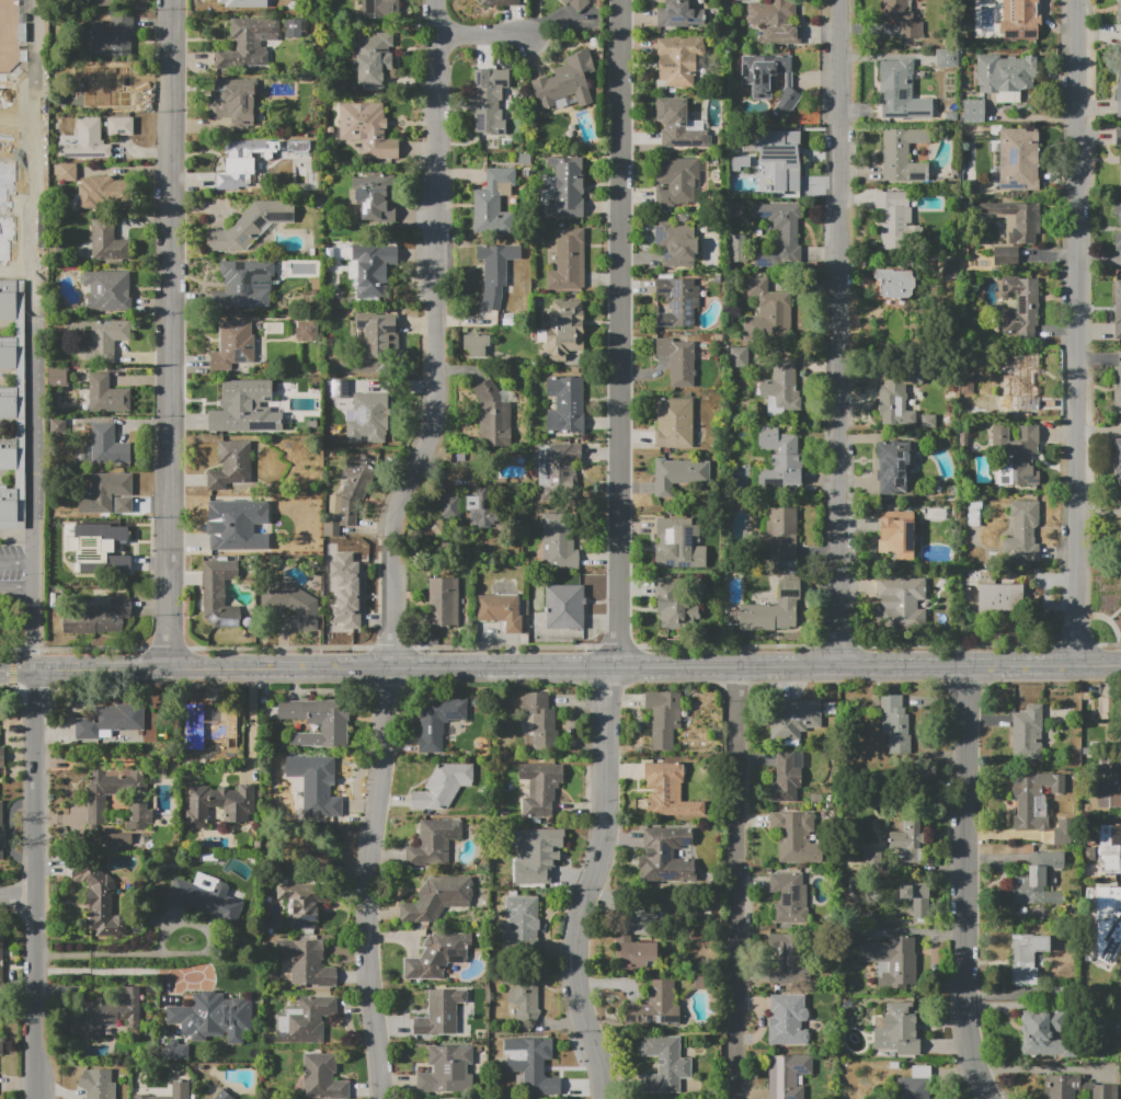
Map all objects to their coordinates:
building: (96, 2)
building: (242, 2)
building: (499, 2)
building: (576, 3)
building: (375, 8)
road: (34, 11)
building: (1119, 12)
building: (1019, 13)
building: (679, 14)
building: (902, 18)
building: (774, 22)
building: (293, 28)
park: (9, 35)
building: (110, 35)
road: (484, 38)
building: (248, 44)
building: (678, 54)
building: (370, 58)
building: (947, 58)
building: (765, 72)
building: (1006, 76)
building: (567, 80)
building: (894, 87)
building: (94, 89)
road: (19, 90)
building: (1120, 93)
building: (489, 101)
road: (37, 102)
building: (233, 103)
building: (785, 103)
building: (974, 111)
building: (5, 114)
building: (119, 126)
building: (679, 127)
building: (367, 129)
building: (1119, 137)
road: (19, 138)
building: (84, 141)
building: (902, 153)
building: (781, 154)
building: (1018, 159)
building: (1120, 159)
building: (238, 164)
building: (66, 171)
building: (675, 180)
building: (567, 186)
building: (105, 193)
building: (374, 194)
building: (3, 198)
building: (493, 202)
building: (1118, 210)
building: (1017, 219)
building: (895, 220)
building: (251, 225)
building: (778, 234)
building: (4, 237)
building: (107, 242)
building: (676, 243)
building: (1118, 243)
building: (737, 248)
building: (1005, 256)
building: (568, 260)
building: (949, 268)
building: (373, 270)
building: (495, 271)
road: (10, 272)
road: (21, 281)
building: (242, 284)
building: (895, 284)
building: (107, 290)
building: (7, 299)
building: (677, 301)
building: (1021, 308)
building: (1118, 309)
building: (767, 310)
road: (10, 327)
building: (305, 329)
building: (564, 329)
road: (1077, 332)
road: (170, 333)
building: (376, 333)
road: (838, 333)
building: (100, 336)
road: (436, 337)
building: (476, 344)
building: (235, 346)
road: (31, 348)
building: (8, 353)
building: (741, 356)
building: (677, 359)
building: (19, 370)
building: (58, 377)
road: (10, 378)
building: (1020, 385)
building: (1117, 386)
building: (780, 387)
building: (106, 393)
building: (896, 394)
building: (8, 403)
building: (237, 405)
building: (565, 405)
building: (492, 415)
building: (367, 417)
building: (927, 421)
building: (674, 423)
road: (10, 424)
building: (56, 425)
building: (963, 438)
building: (106, 447)
building: (7, 454)
building: (1016, 456)
building: (780, 459)
building: (1117, 460)
building: (231, 463)
building: (892, 465)
building: (557, 466)
building: (678, 473)
building: (112, 484)
building: (354, 486)
building: (12, 502)
building: (124, 505)
building: (331, 505)
building: (450, 506)
building: (480, 506)
building: (974, 512)
building: (230, 527)
building: (331, 528)
building: (1022, 531)
building: (779, 534)
building: (896, 534)
building: (559, 540)
building: (1120, 540)
building: (301, 542)
building: (678, 543)
building: (99, 548)
road: (617, 553)
building: (77, 564)
parking lot: (12, 574)
building: (980, 576)
building: (346, 589)
building: (219, 593)
road: (32, 595)
building: (999, 597)
building: (900, 600)
building: (290, 602)
building: (441, 603)
building: (673, 605)
building: (565, 606)
building: (500, 610)
building: (770, 613)
building: (99, 619)
road: (560, 649)
road: (499, 666)
road: (866, 666)
road: (193, 667)
building: (1101, 710)
building: (663, 717)
building: (793, 718)
building: (541, 720)
building: (108, 721)
building: (317, 721)
building: (437, 721)
road: (251, 723)
building: (894, 723)
building: (210, 724)
building: (1028, 731)
building: (1, 757)
building: (786, 776)
building: (1108, 780)
building: (319, 785)
building: (443, 787)
building: (540, 789)
building: (668, 791)
building: (1029, 801)
building: (95, 802)
building: (219, 803)
building: (1, 831)
building: (1062, 832)
building: (796, 837)
building: (907, 839)
building: (110, 840)
building: (433, 842)
building: (663, 851)
building: (1106, 852)
building: (534, 857)
building: (871, 857)
building: (1038, 880)
road: (366, 882)
road: (736, 882)
road: (966, 884)
road: (41, 885)
building: (205, 896)
building: (790, 897)
building: (437, 898)
building: (916, 898)
building: (100, 901)
road: (20, 902)
building: (304, 903)
building: (522, 925)
building: (1109, 928)
building: (637, 953)
building: (437, 955)
building: (1027, 957)
building: (892, 958)
building: (786, 959)
building: (307, 963)
building: (0, 966)
road: (116, 969)
building: (523, 994)
building: (653, 1007)
building: (441, 1011)
building: (107, 1014)
building: (213, 1017)
building: (304, 1020)
building: (787, 1020)
building: (905, 1020)
building: (1117, 1026)
building: (1044, 1033)
building: (0, 1045)
building: (175, 1050)
building: (665, 1064)
building: (530, 1065)
building: (444, 1067)
building: (788, 1076)
building: (323, 1077)
building: (98, 1083)
building: (916, 1084)
building: (1075, 1087)
building: (172, 1091)
building: (222, 1096)

